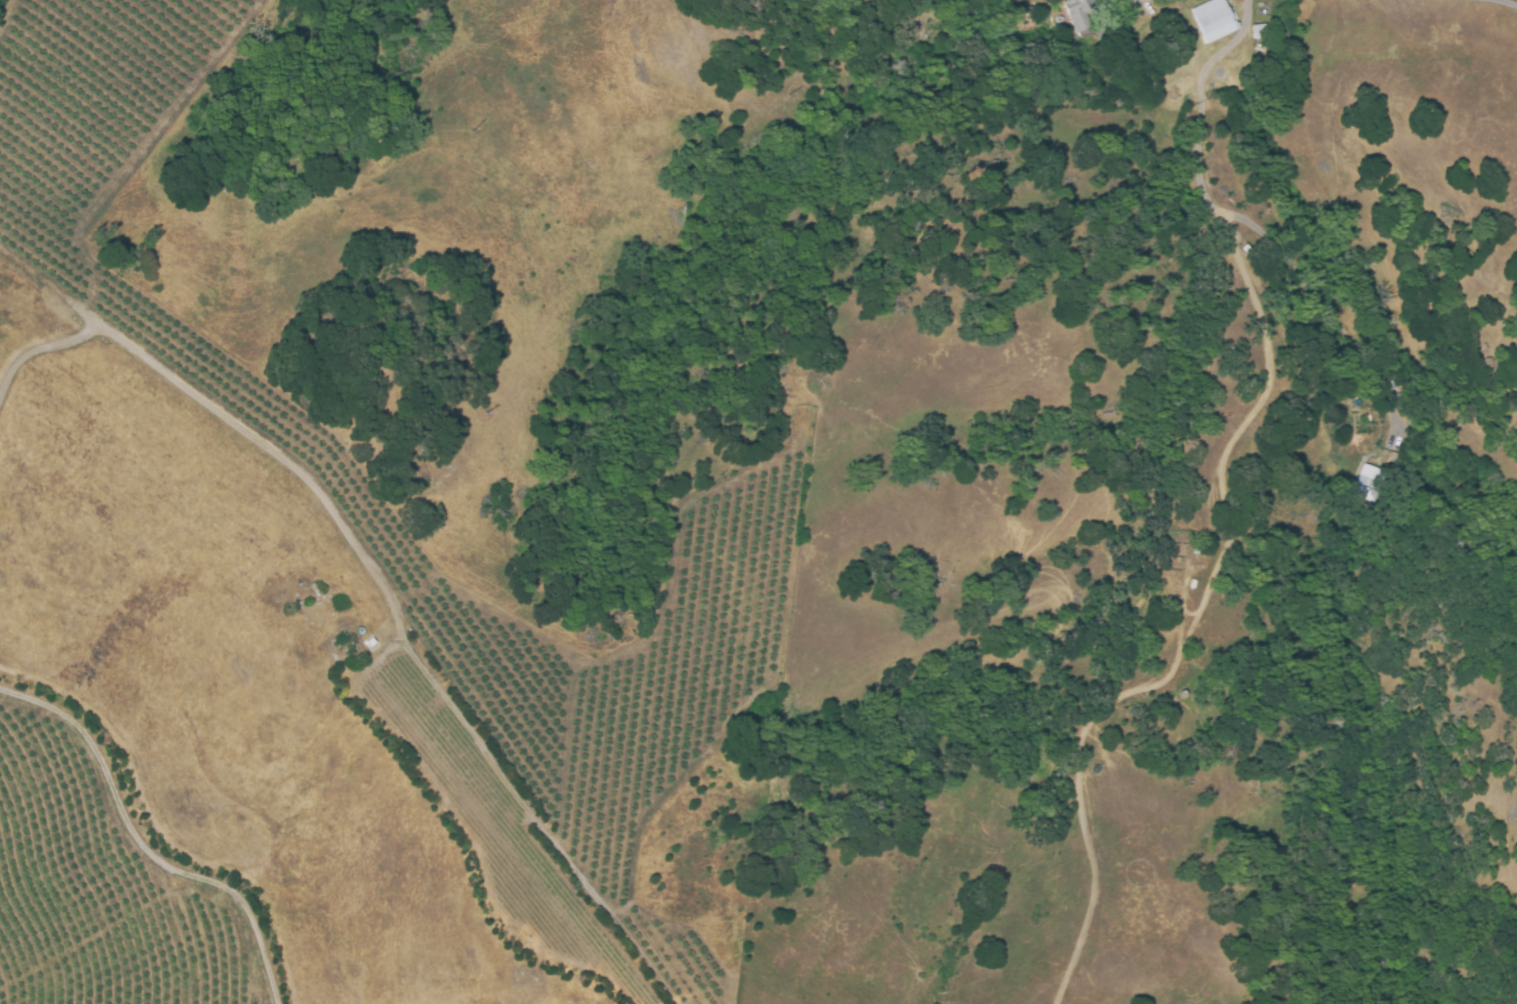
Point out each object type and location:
building: (1077, 13)
building: (1215, 19)
road: (1221, 53)
building: (1364, 486)

